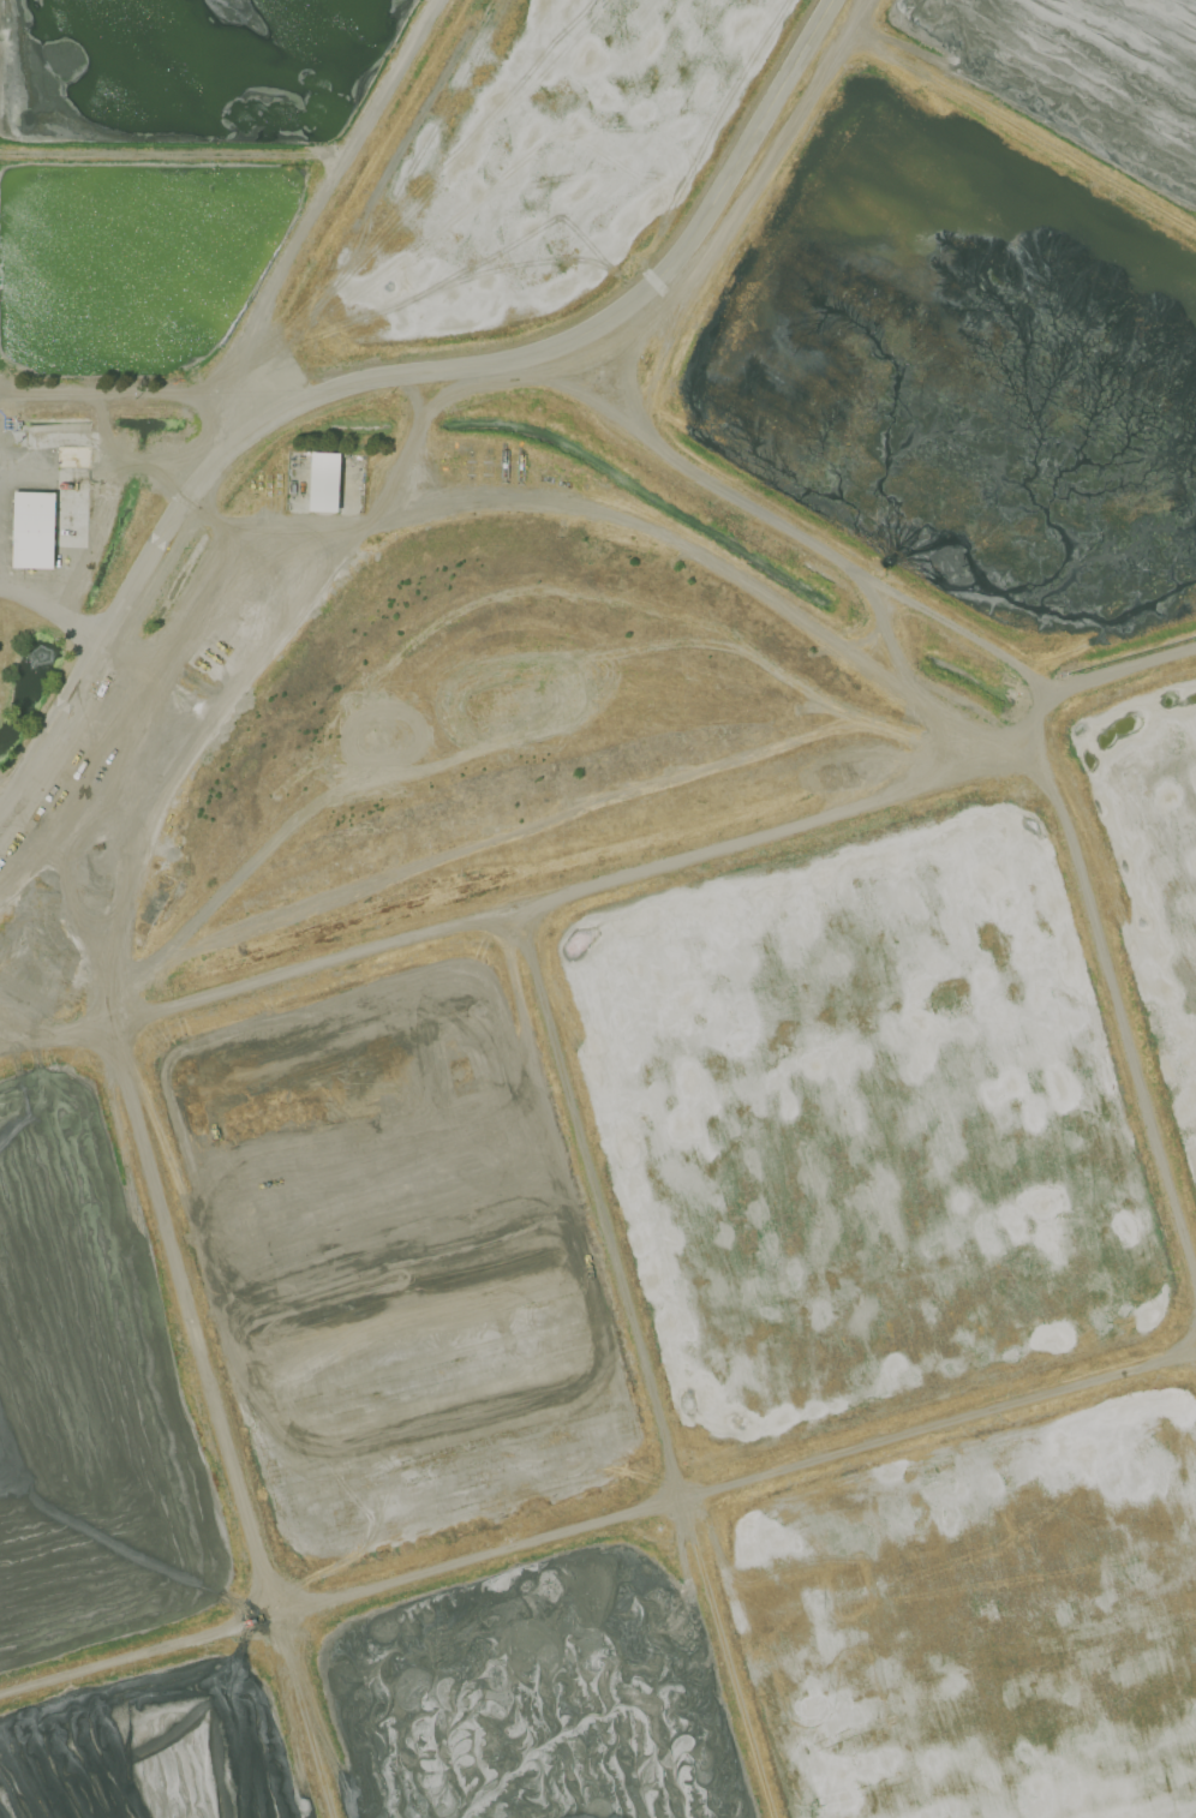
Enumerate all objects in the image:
road: (173, 155)
road: (321, 198)
road: (400, 376)
road: (132, 390)
building: (67, 458)
building: (325, 482)
building: (34, 530)
road: (52, 608)

